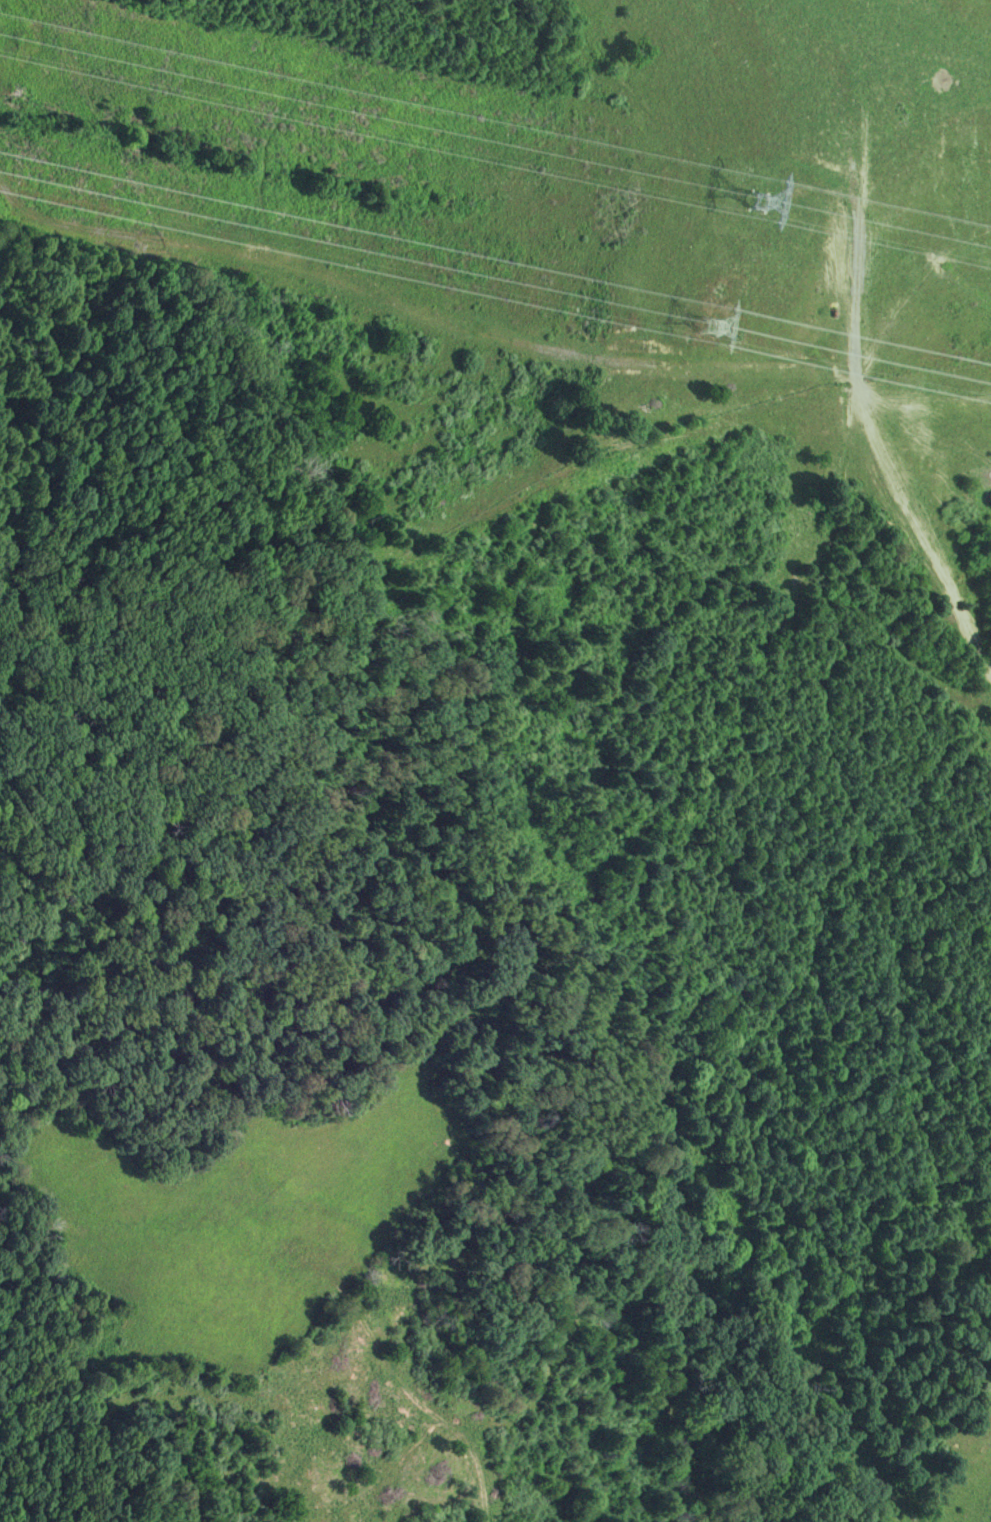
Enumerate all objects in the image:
power tower: (757, 200)
power tower: (713, 329)

